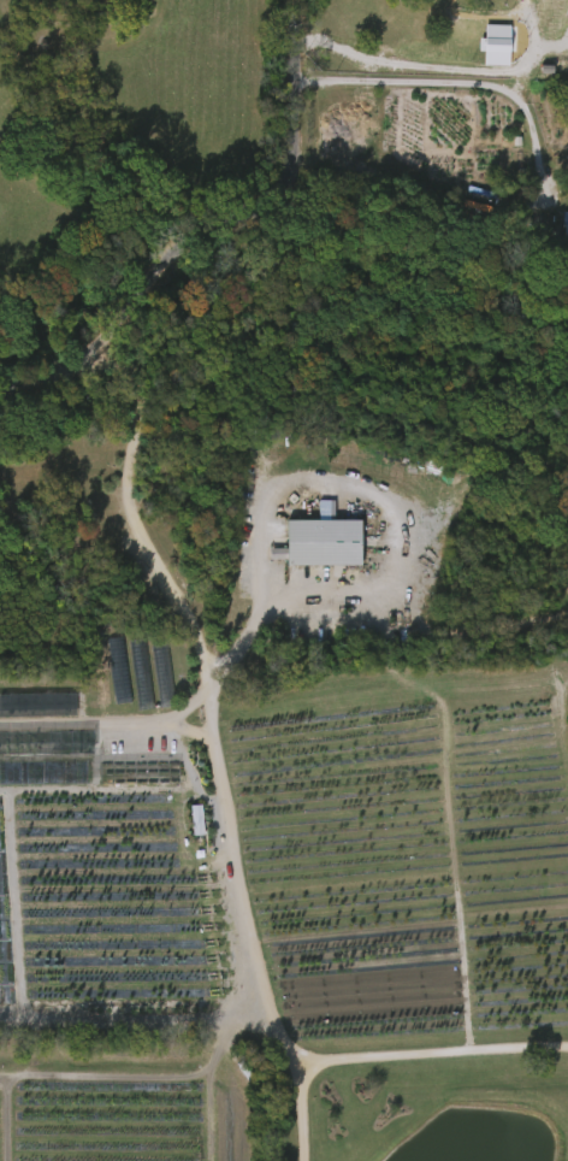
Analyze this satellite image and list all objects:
building: (501, 46)
road: (439, 69)
building: (545, 70)
road: (452, 83)
building: (566, 228)
road: (214, 237)
road: (394, 520)
building: (323, 543)
road: (103, 712)
road: (218, 784)
building: (199, 821)
road: (431, 1055)

